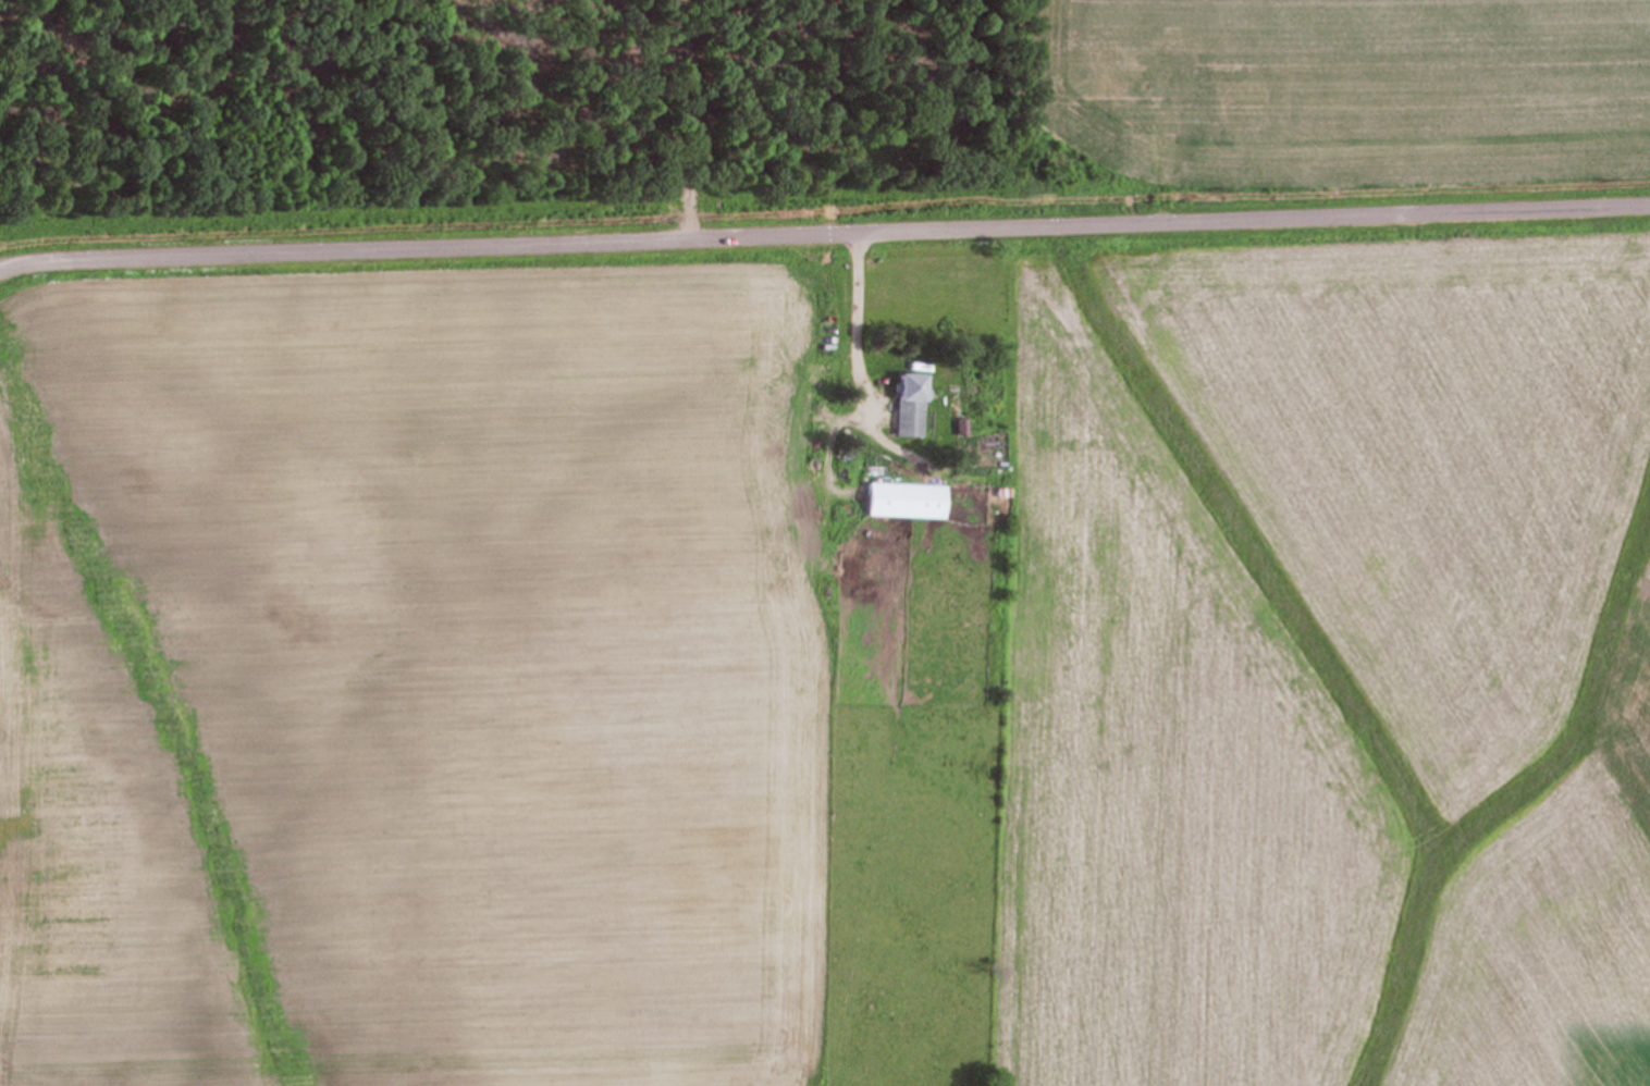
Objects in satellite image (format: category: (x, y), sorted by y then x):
road: (830, 206)
road: (7, 262)
road: (860, 318)
building: (910, 405)
building: (904, 501)

